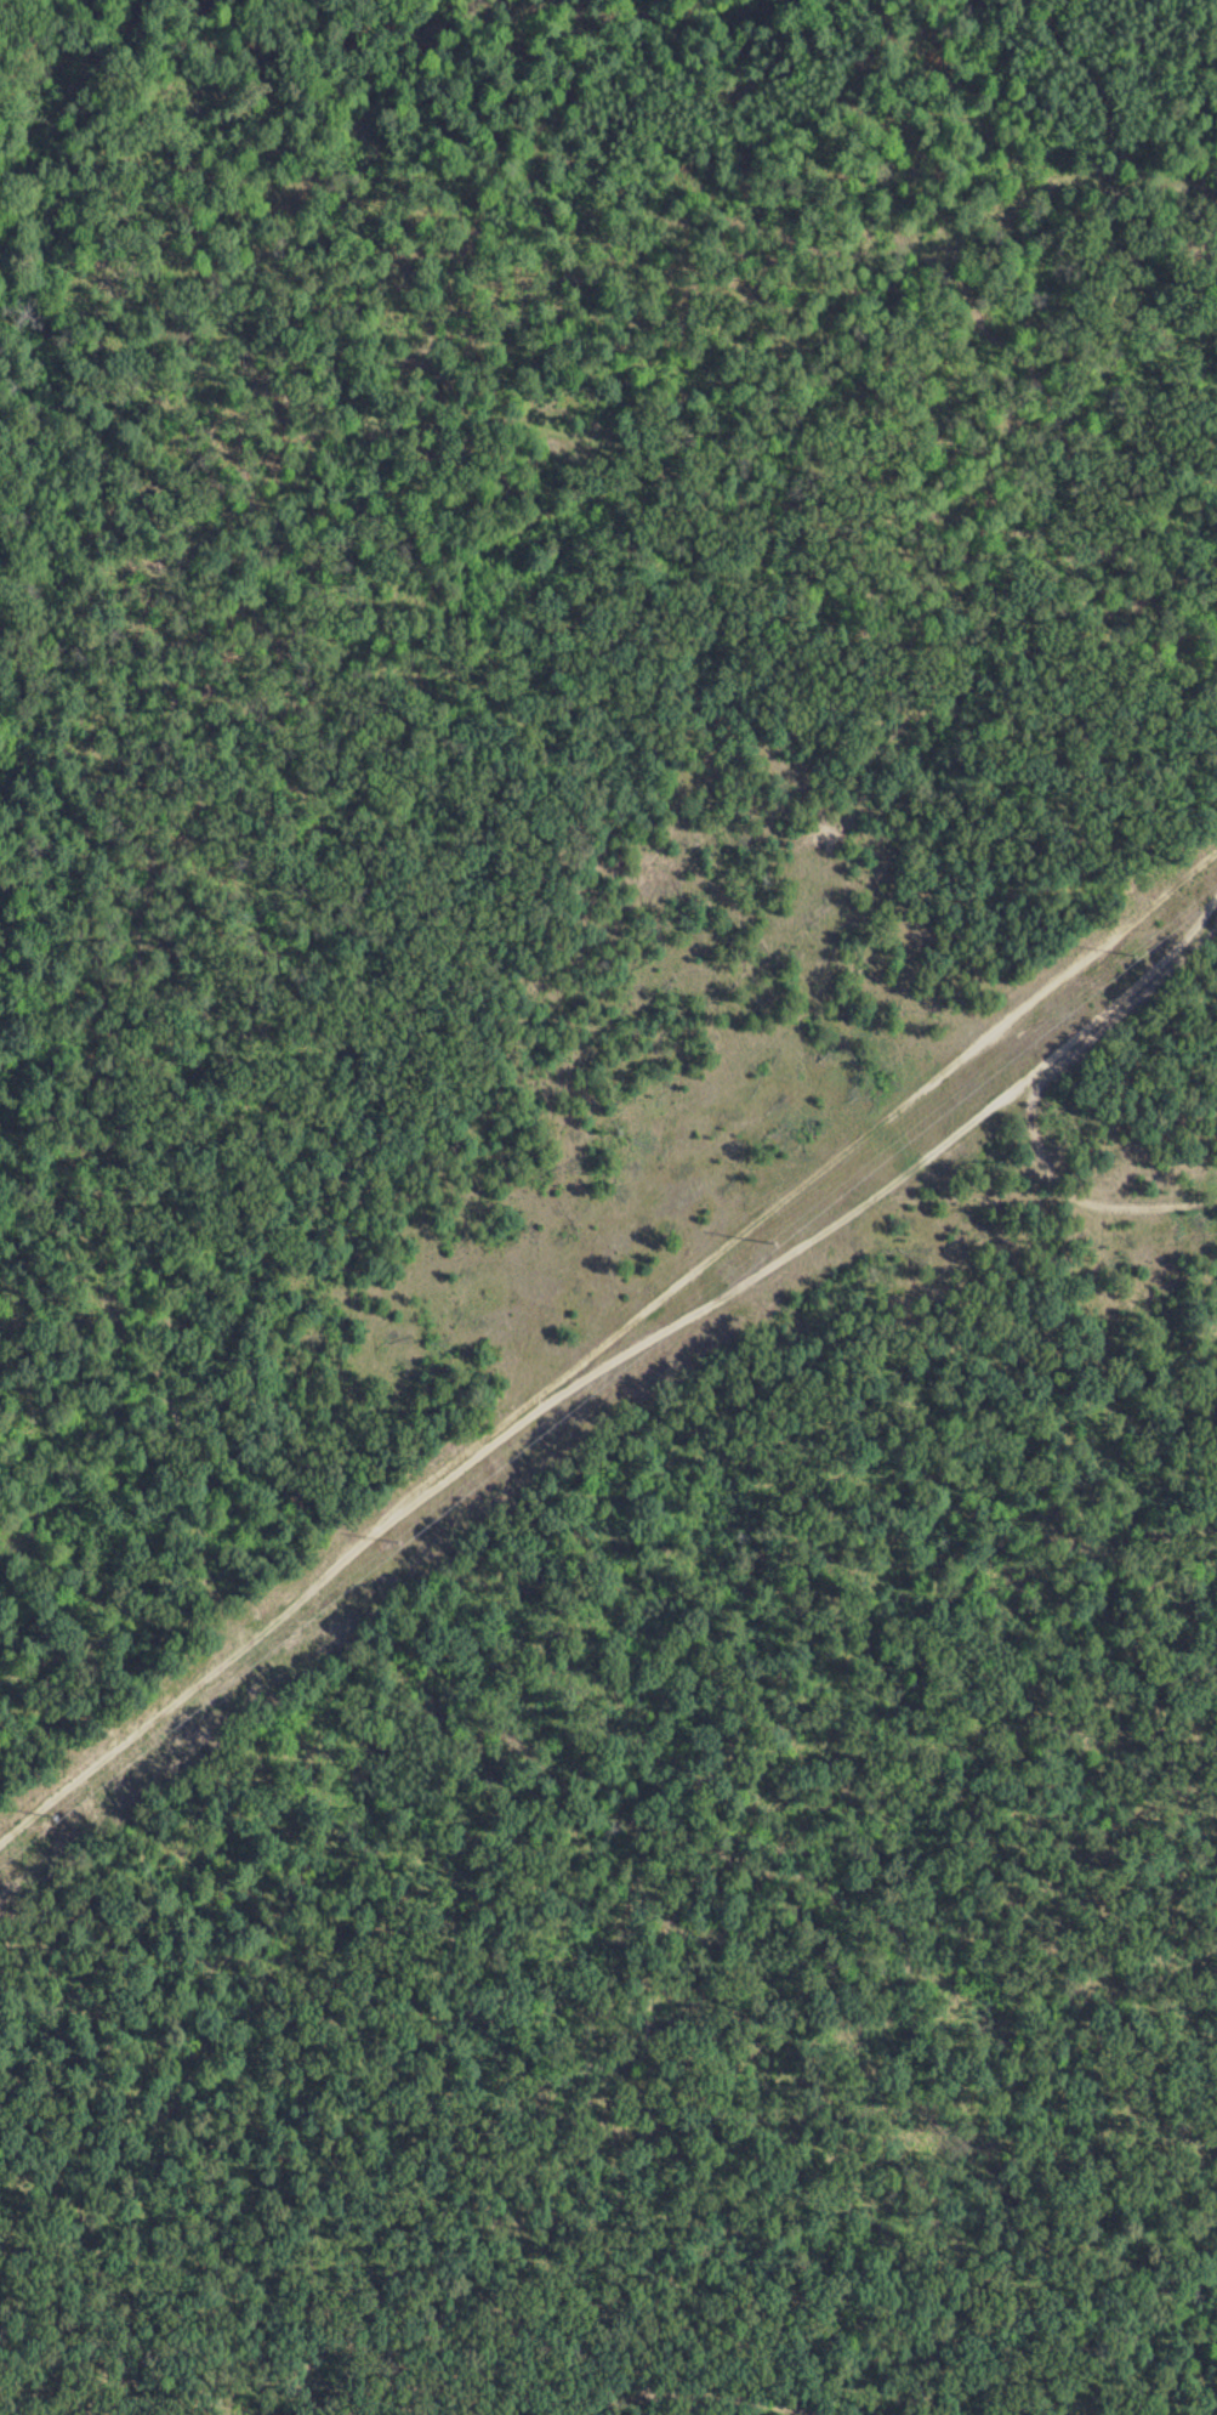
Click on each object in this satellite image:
road: (698, 2393)
road: (1216, 2414)

